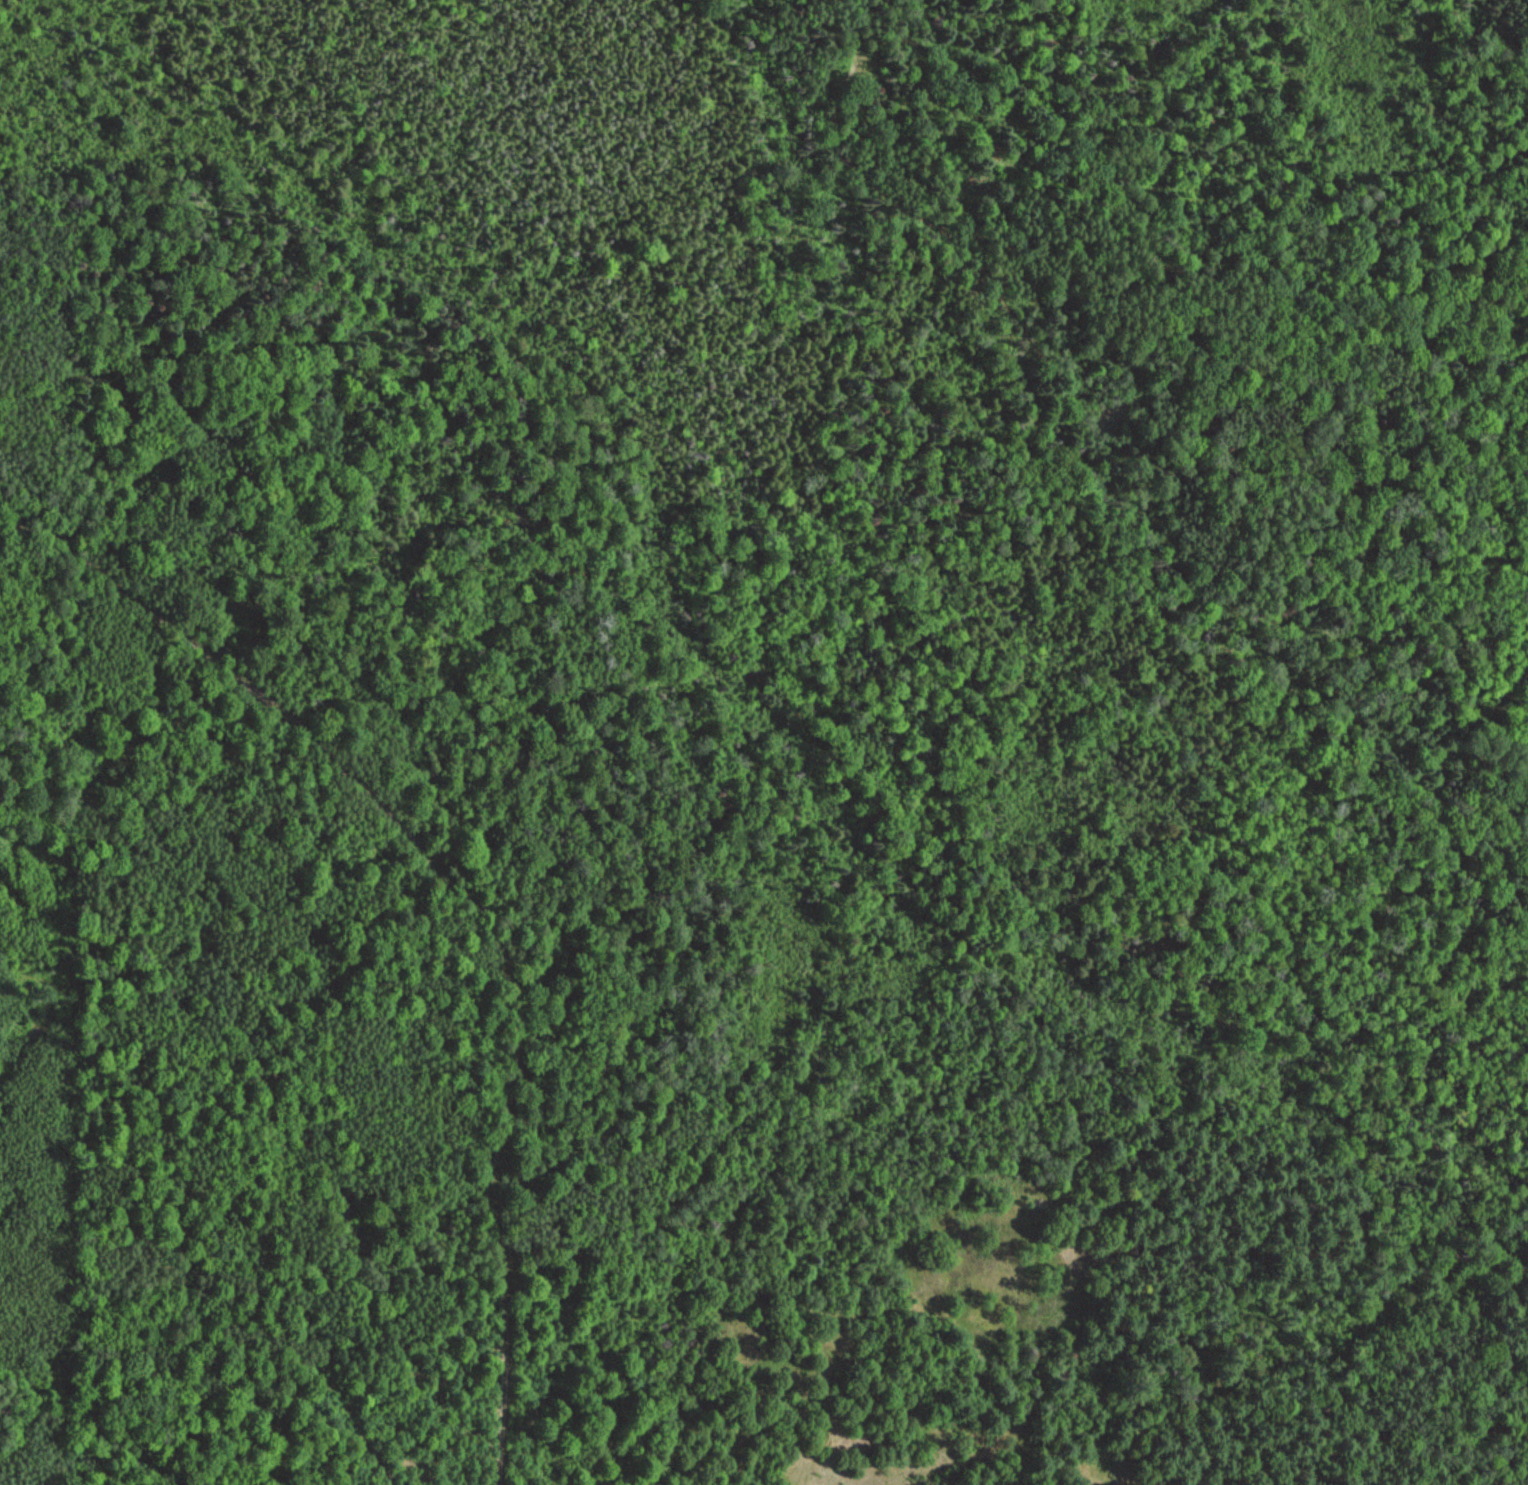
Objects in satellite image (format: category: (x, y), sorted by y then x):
road: (502, 1122)

